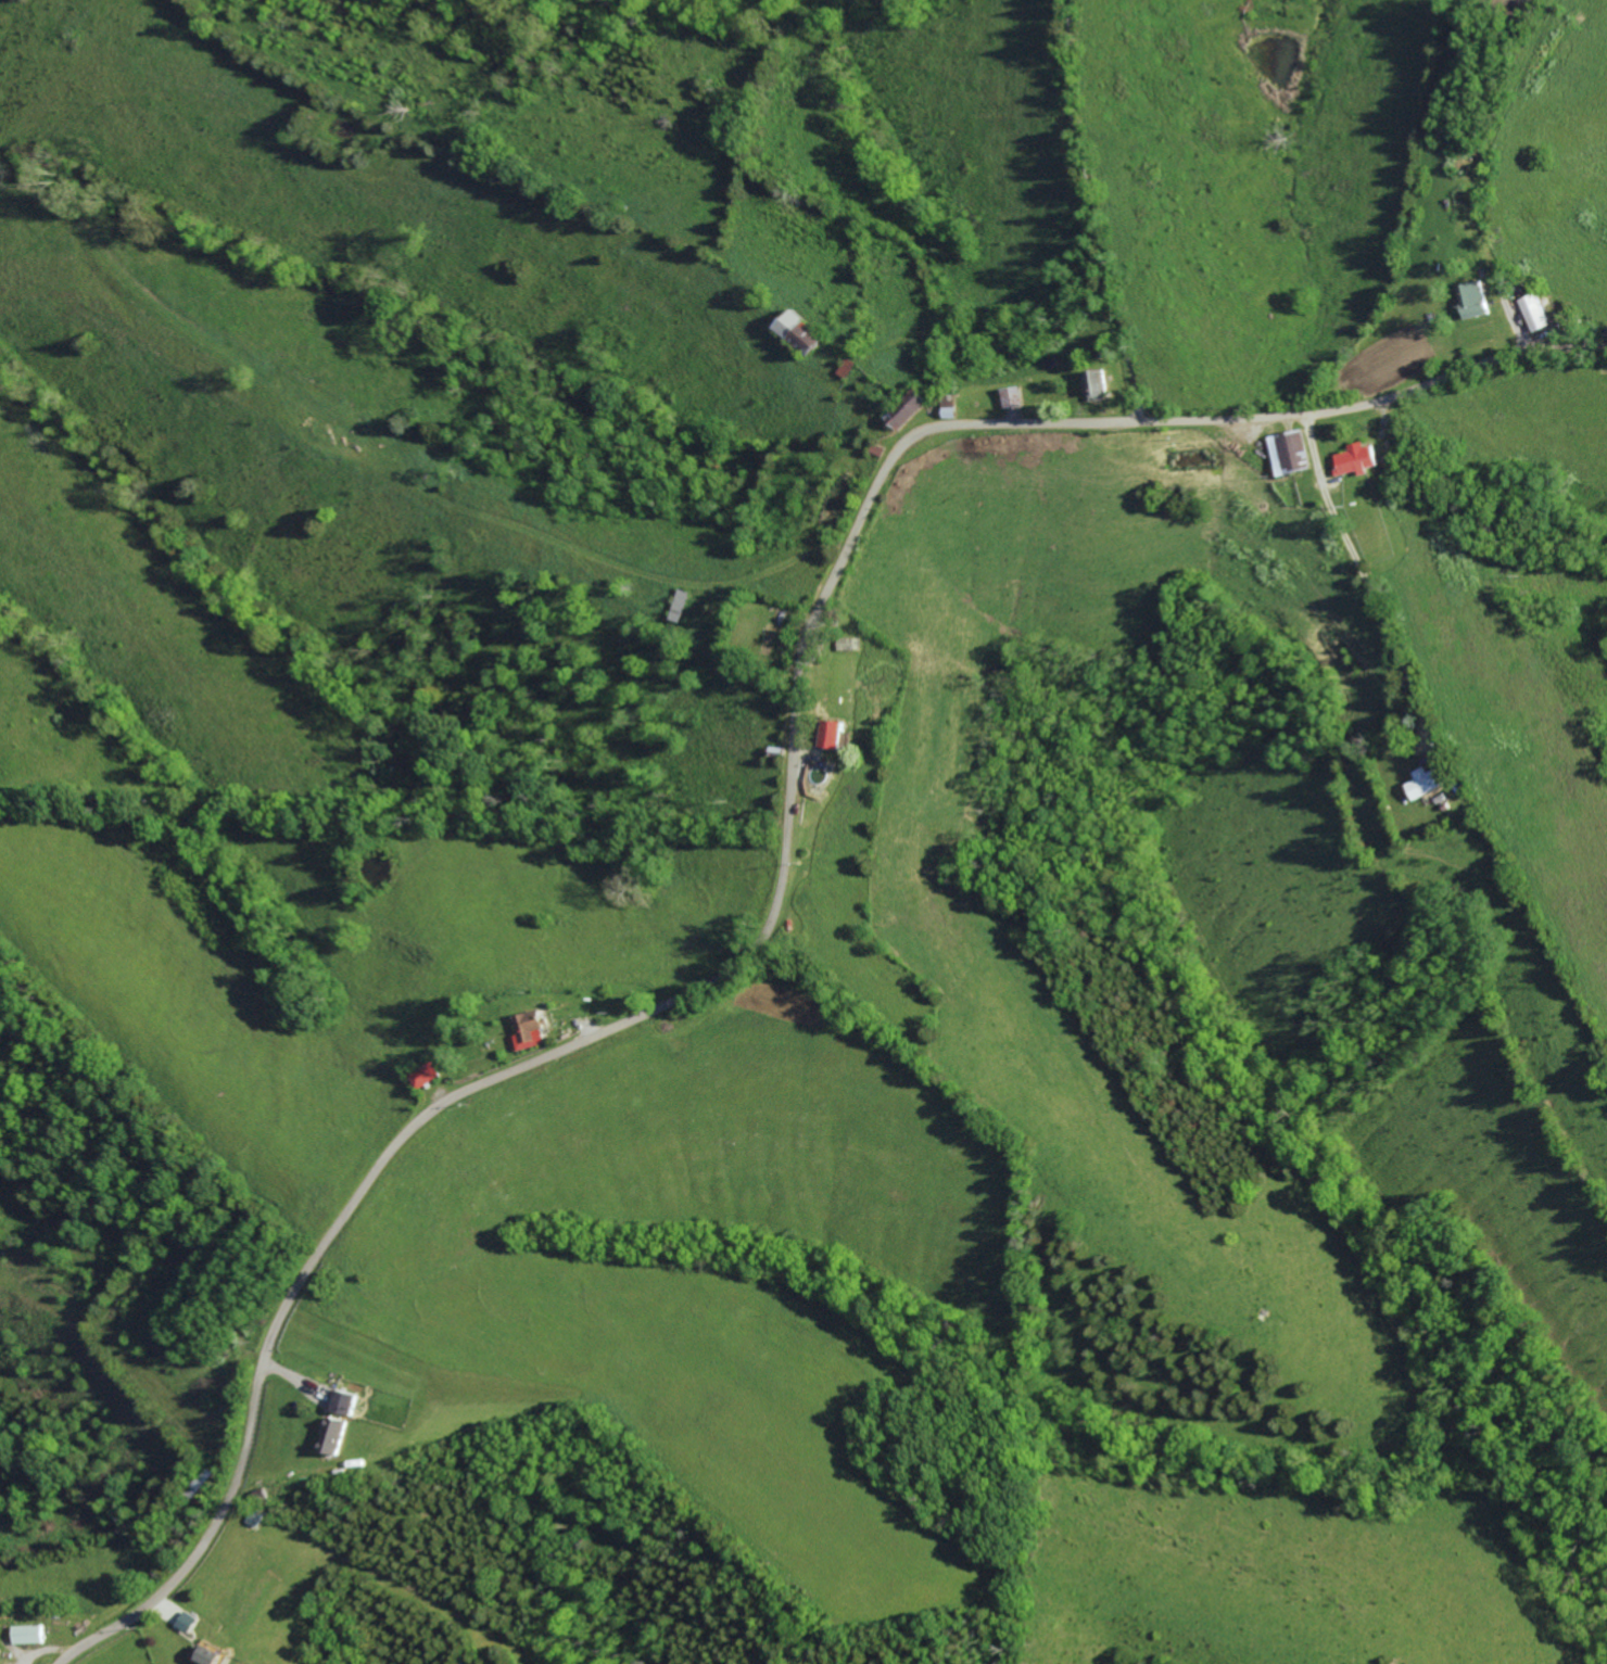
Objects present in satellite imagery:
road: (1094, 212)
road: (1493, 267)
building: (1479, 296)
building: (1539, 310)
building: (803, 330)
building: (911, 408)
building: (1295, 450)
building: (1363, 458)
road: (780, 564)
road: (1370, 585)
building: (684, 605)
building: (836, 733)
building: (1429, 782)
road: (789, 854)
building: (536, 1029)
building: (429, 1074)
building: (350, 1402)
building: (339, 1436)
building: (193, 1622)
building: (36, 1635)
building: (1, 1653)
building: (215, 1656)

